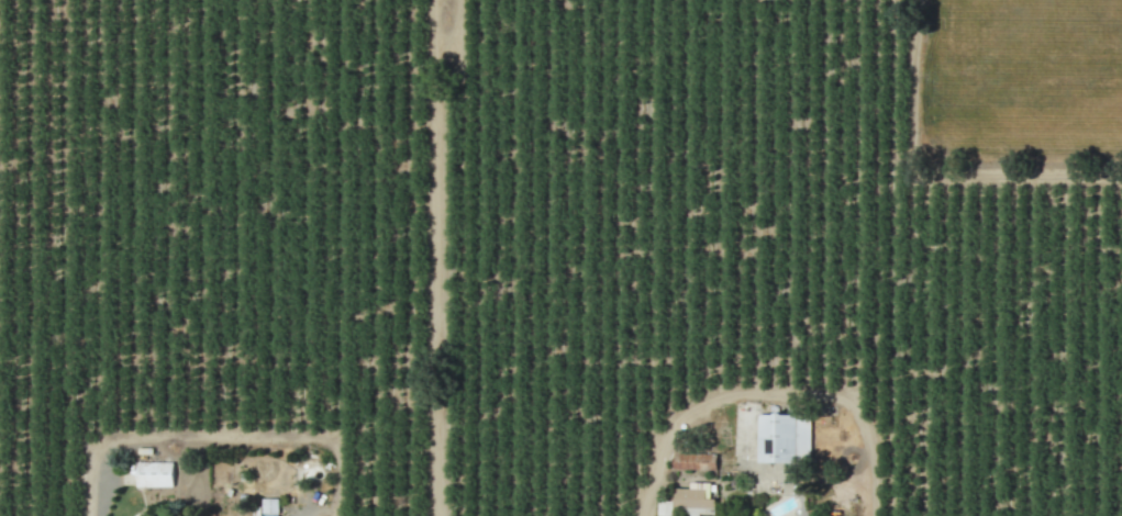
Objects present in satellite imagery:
crop: (1018, 80)
road: (764, 393)
building: (782, 438)
building: (692, 461)
building: (153, 474)
building: (693, 500)
building: (268, 506)
building: (664, 508)

